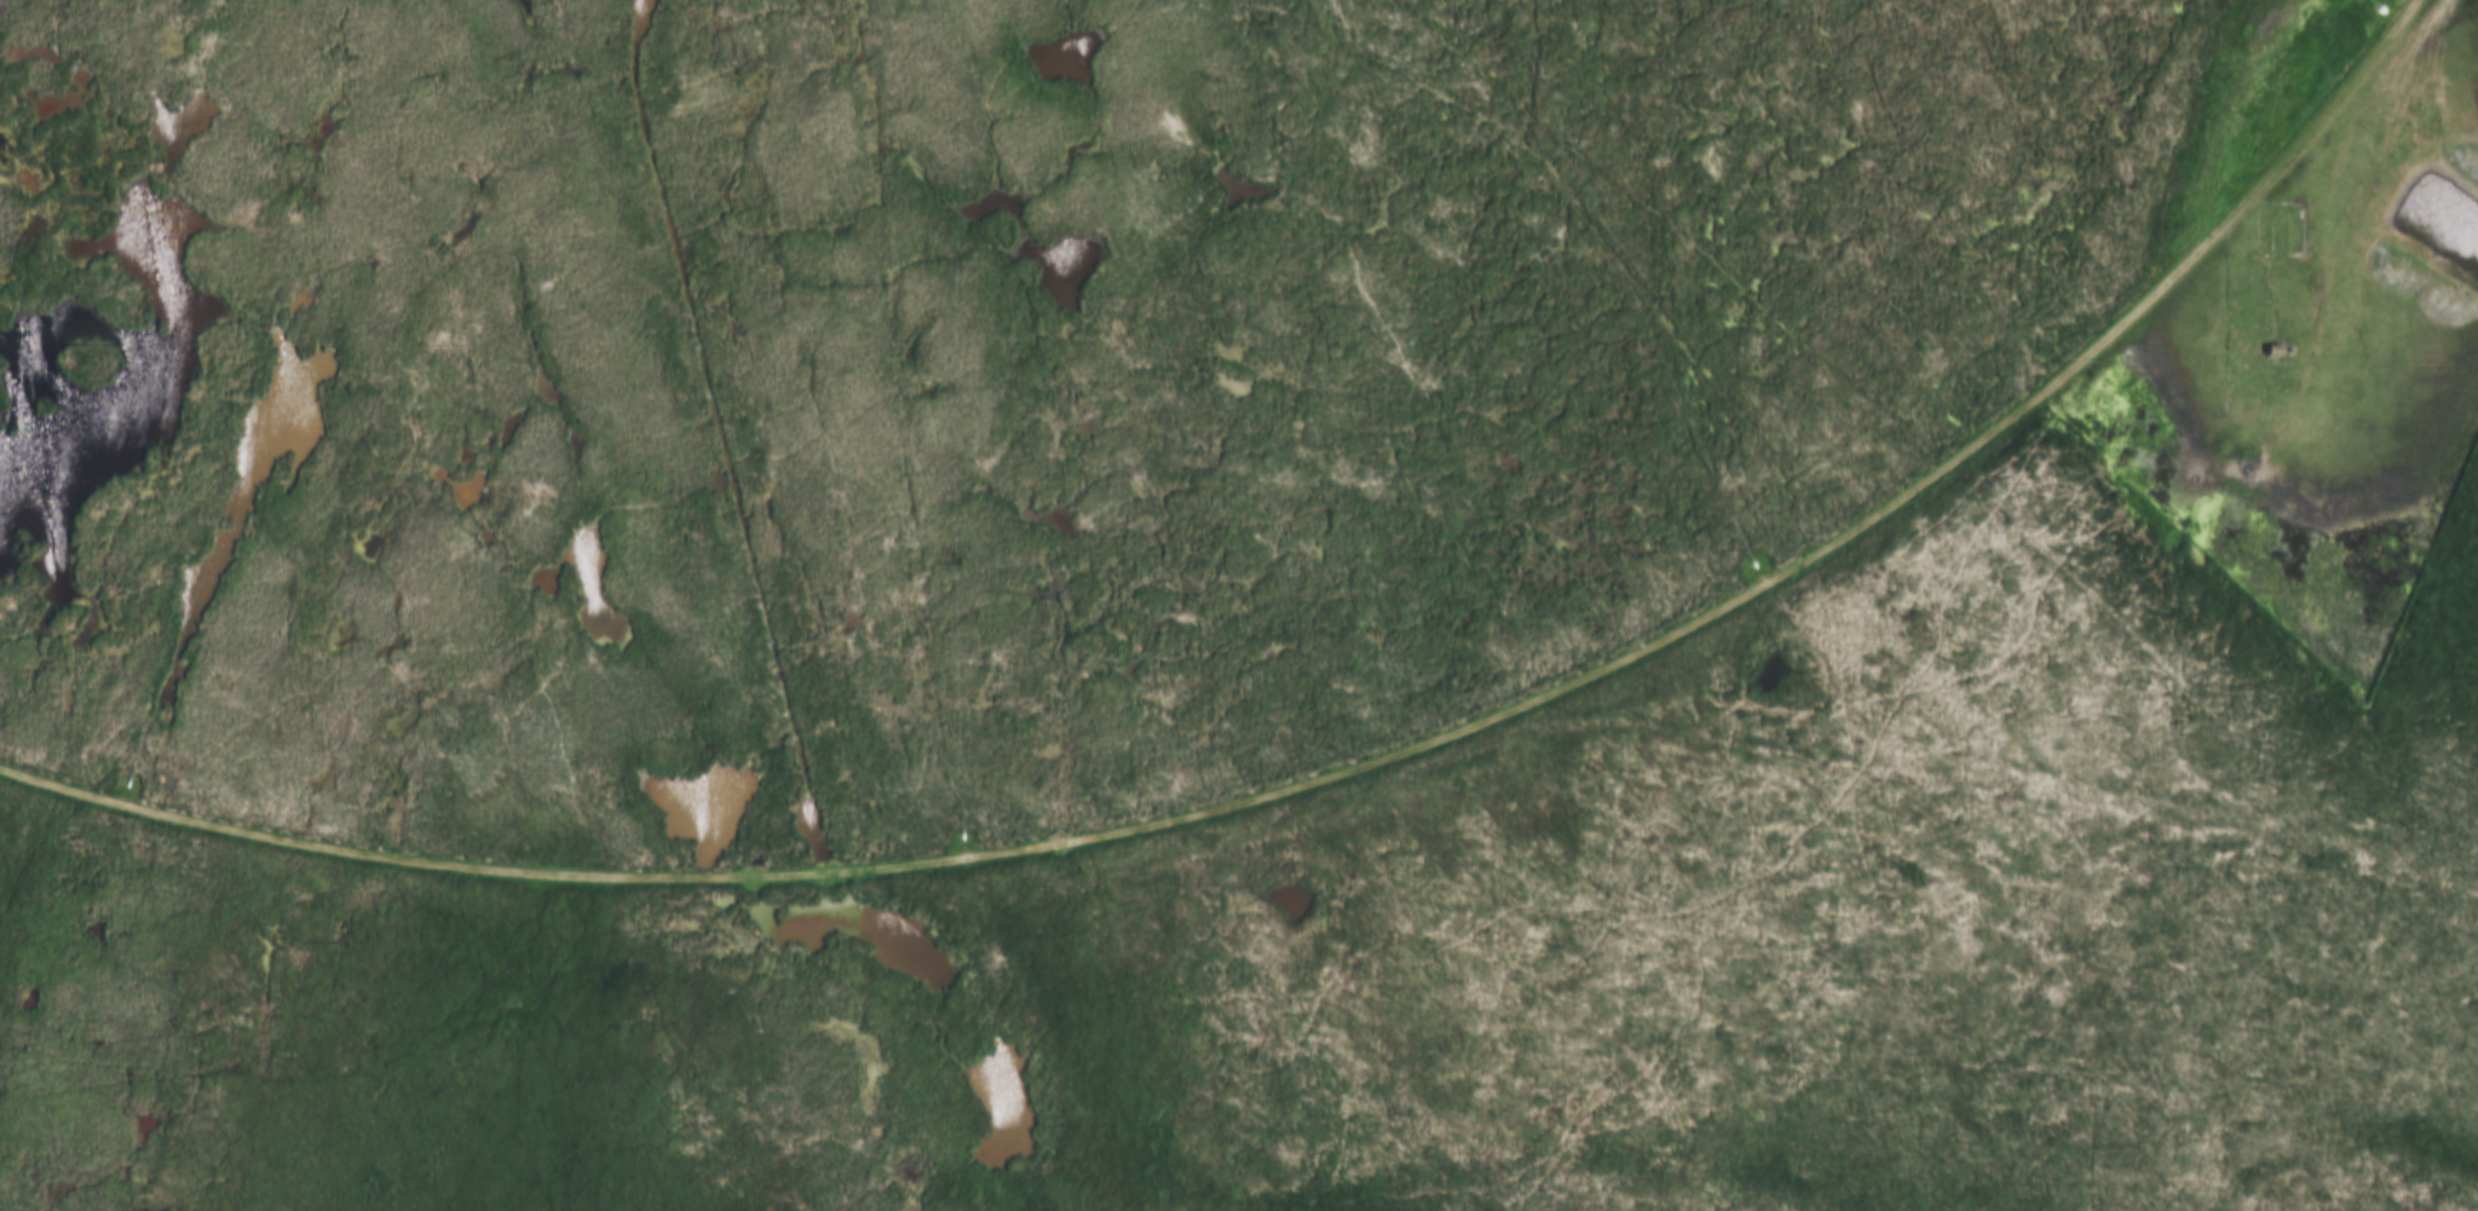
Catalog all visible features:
road: (1339, 775)

